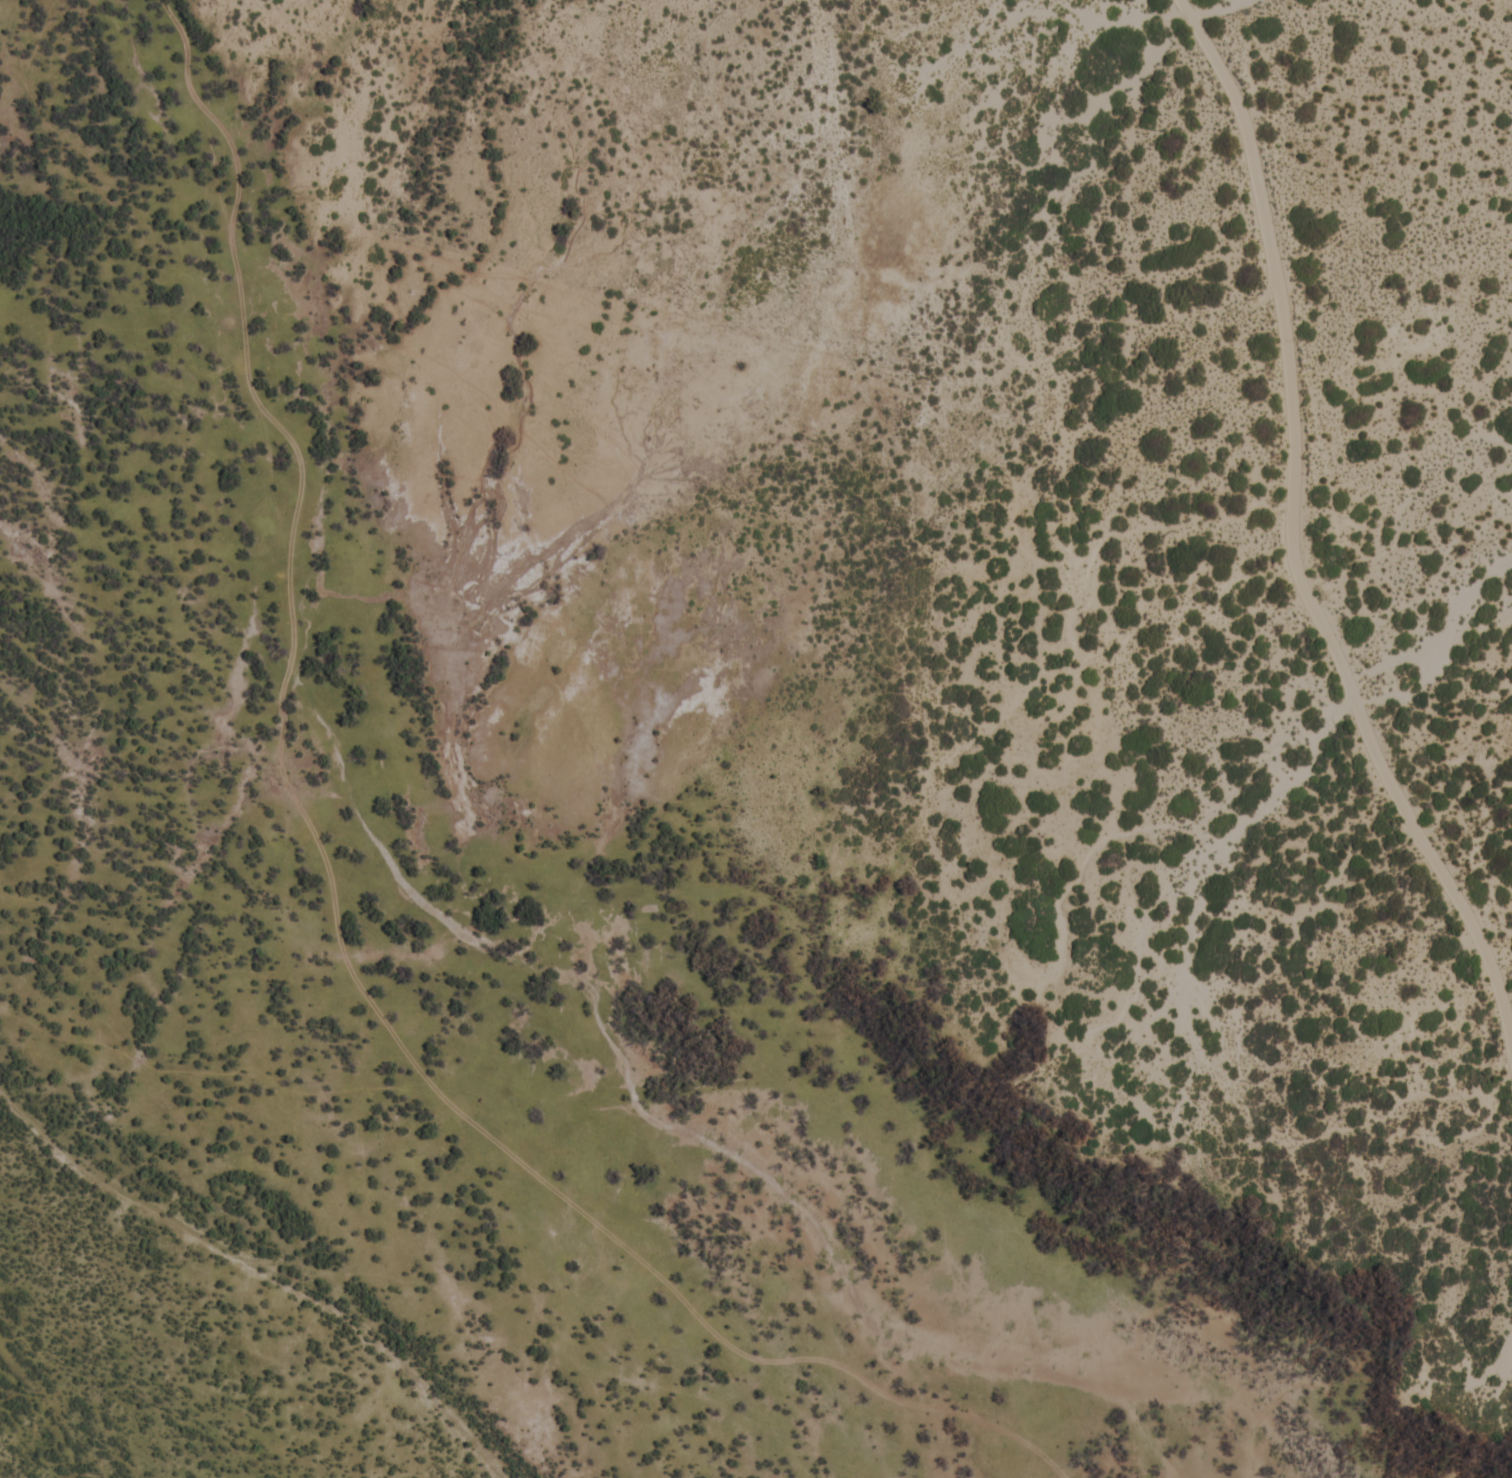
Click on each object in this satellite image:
road: (932, 746)
road: (1322, 1095)
road: (1016, 1232)

